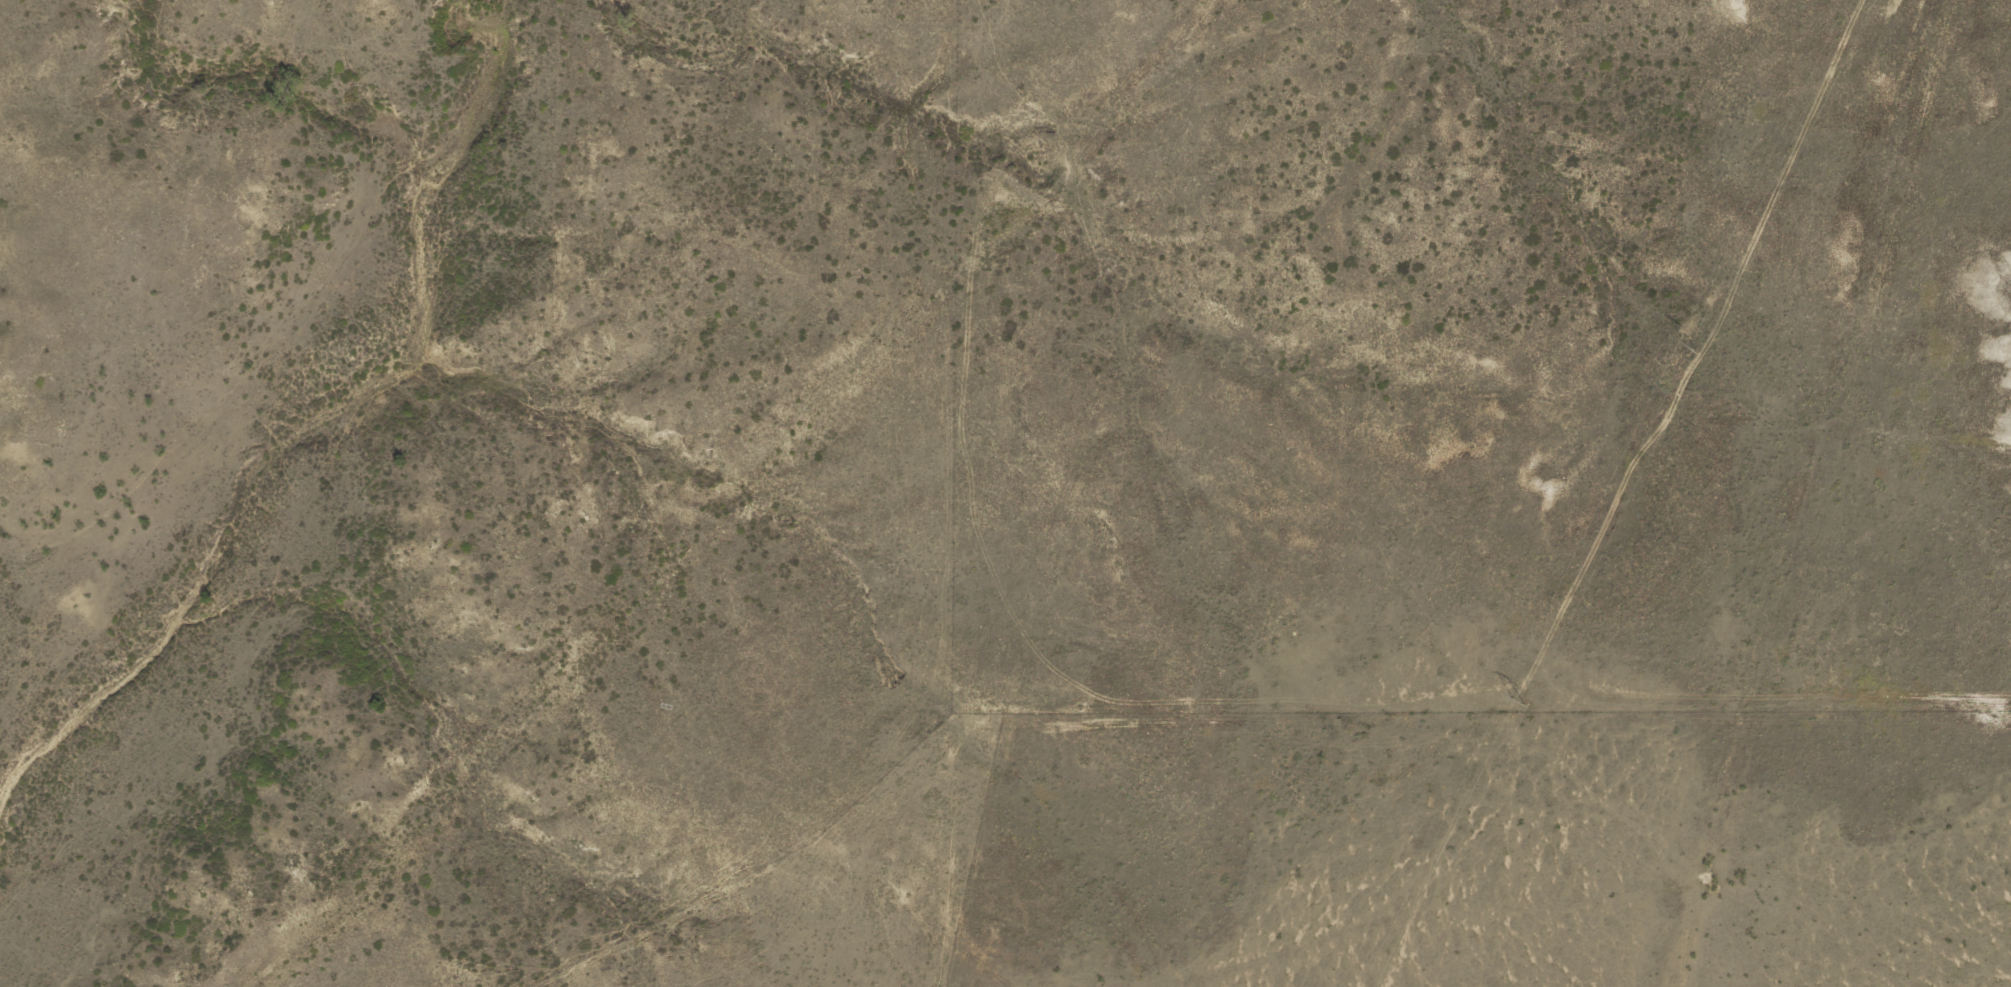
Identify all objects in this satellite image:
power tower: (1686, 350)
power tower: (1516, 700)
road: (1665, 757)

